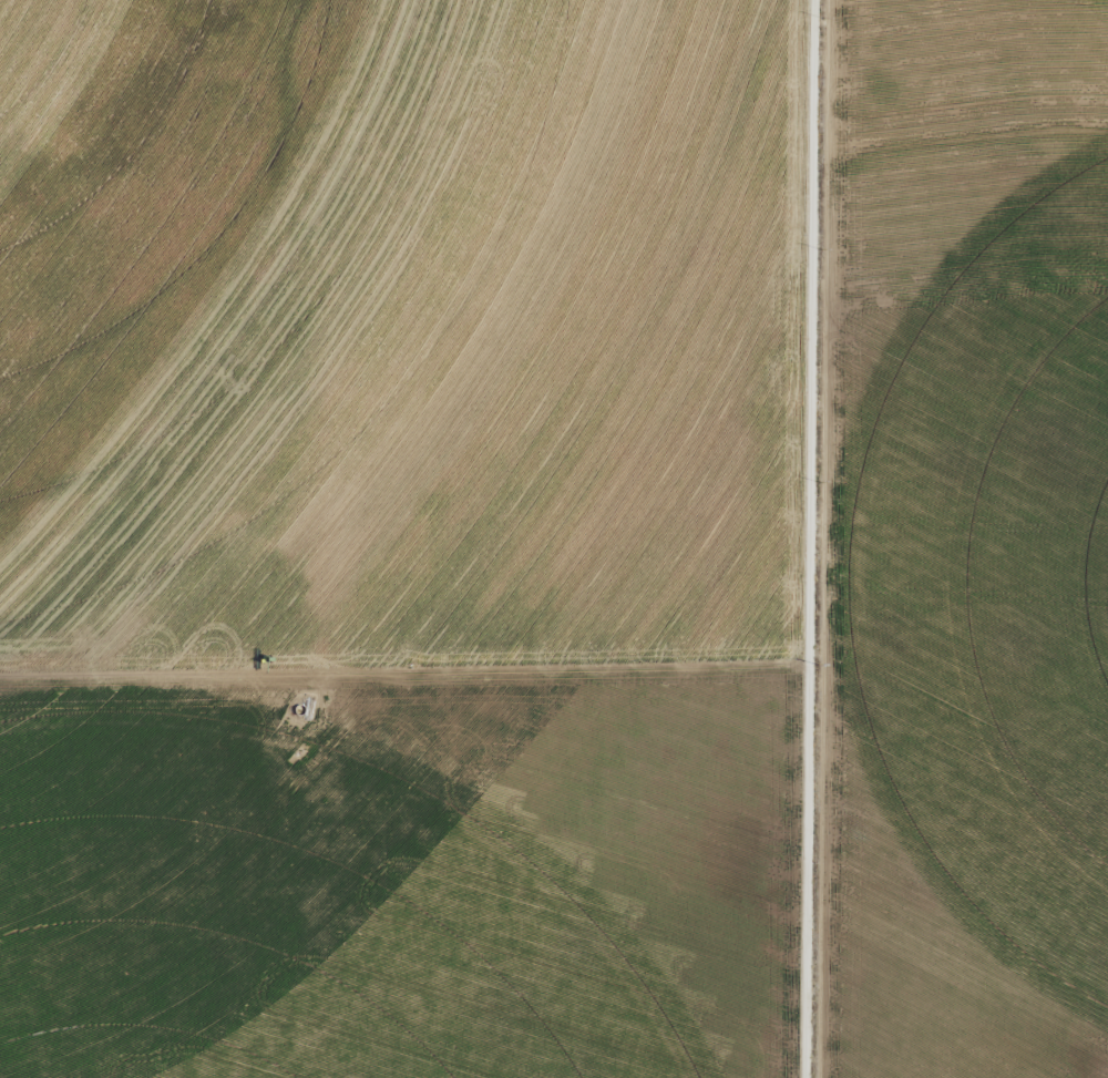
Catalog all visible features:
road: (804, 538)

